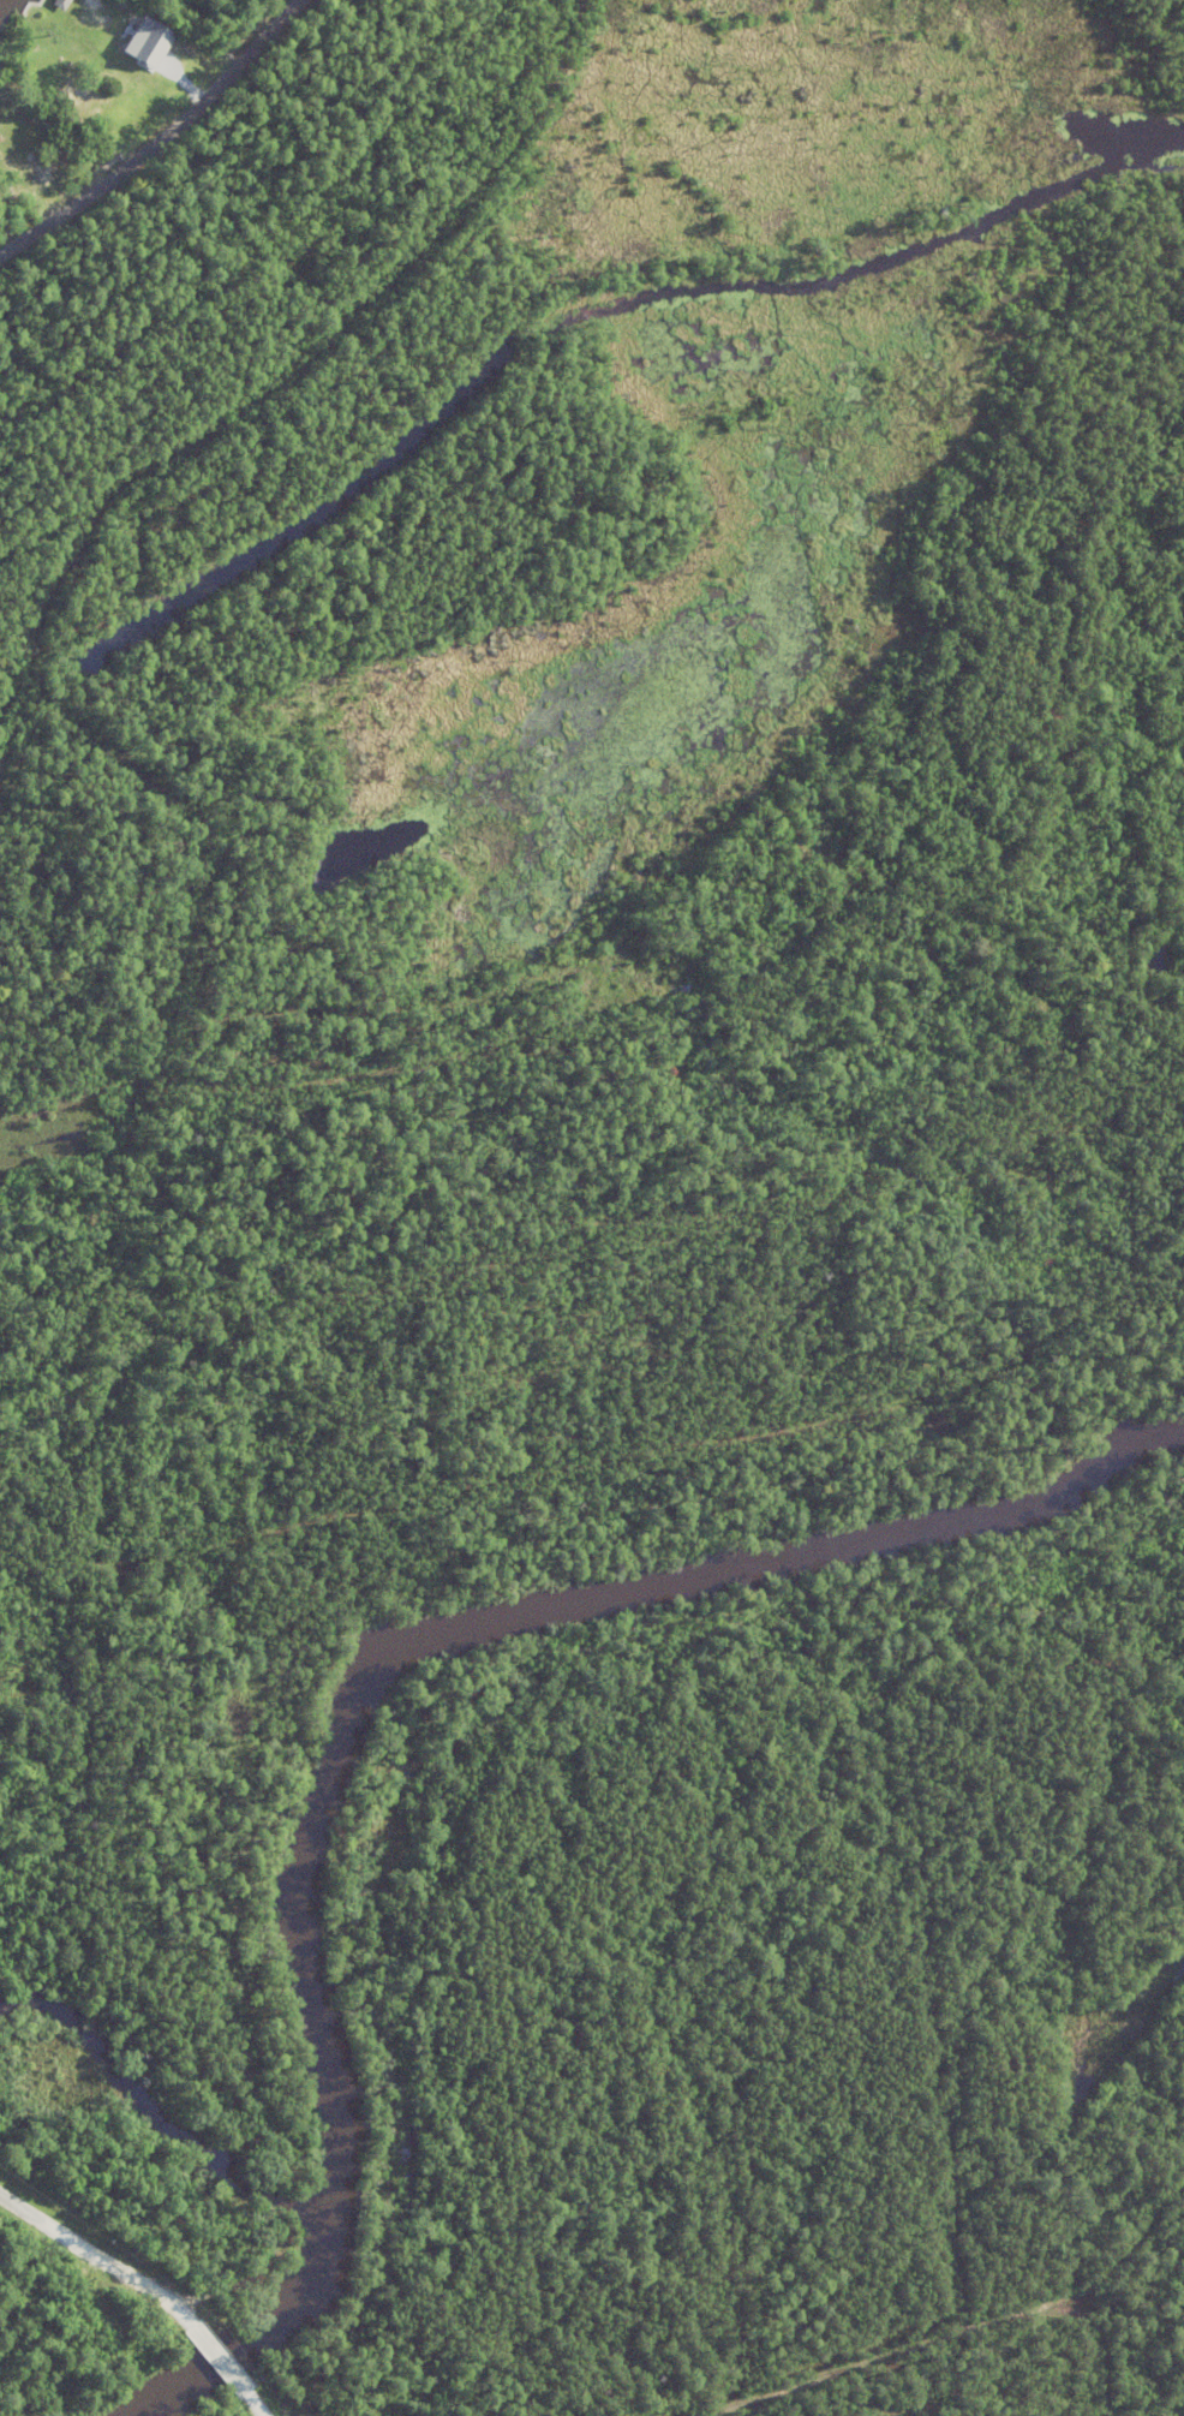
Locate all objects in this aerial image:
building: (151, 41)
road: (803, 46)
road: (880, 100)
road: (165, 143)
road: (346, 327)
road: (903, 350)
road: (512, 601)
road: (35, 660)
road: (98, 748)
road: (854, 800)
road: (653, 925)
road: (839, 929)
road: (435, 997)
road: (131, 1187)
road: (657, 1234)
road: (640, 1448)
road: (41, 1557)
road: (1130, 1738)
road: (516, 1773)
road: (935, 2016)
road: (731, 2213)
road: (1140, 2231)
road: (106, 2260)
road: (903, 2351)
road: (1107, 2352)
road: (222, 2356)
road: (251, 2397)
road: (809, 2399)

